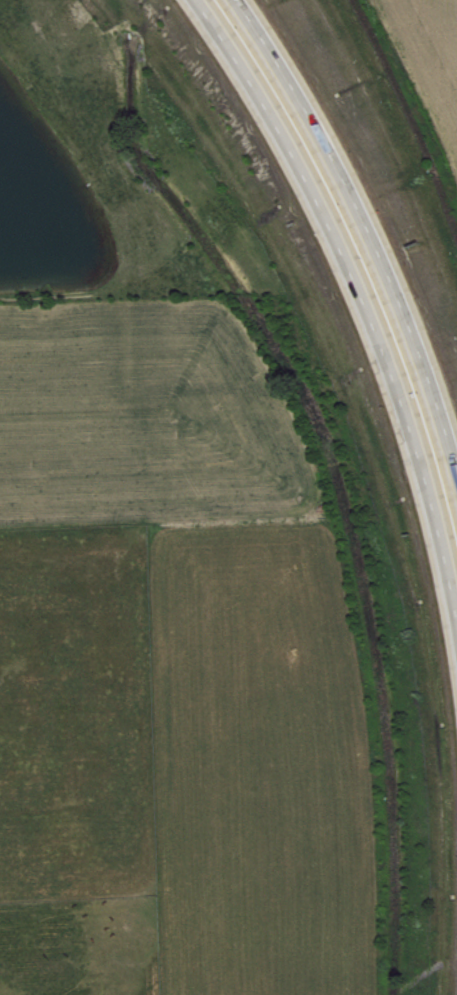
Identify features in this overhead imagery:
road: (369, 225)
road: (362, 284)

